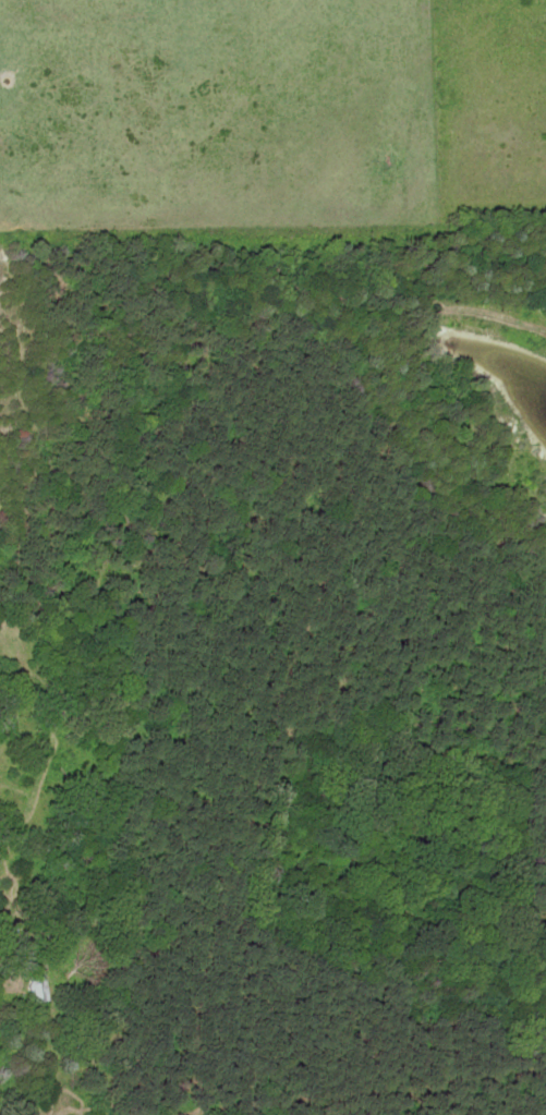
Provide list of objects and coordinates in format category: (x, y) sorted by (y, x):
building: (35, 990)

